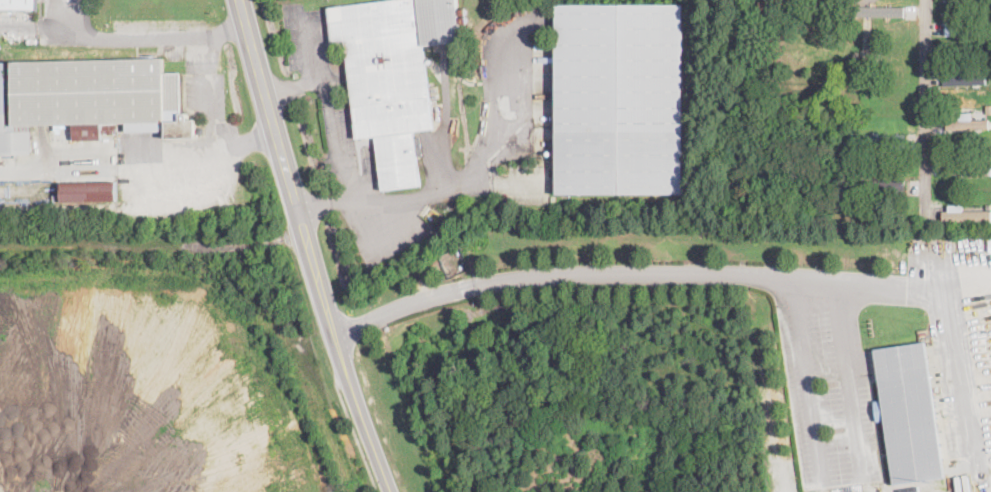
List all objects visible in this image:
building: (19, 4)
building: (986, 7)
building: (463, 12)
building: (886, 15)
building: (465, 20)
building: (966, 32)
road: (146, 34)
building: (986, 44)
building: (392, 75)
building: (965, 80)
building: (989, 80)
road: (291, 86)
building: (91, 99)
building: (621, 99)
road: (268, 100)
road: (925, 108)
building: (989, 112)
road: (210, 115)
building: (990, 123)
building: (968, 125)
road: (334, 131)
building: (886, 139)
building: (860, 148)
building: (965, 170)
building: (990, 170)
road: (471, 172)
building: (882, 184)
building: (89, 191)
building: (867, 193)
building: (969, 217)
road: (632, 270)
road: (340, 347)
landfill: (162, 368)
road: (953, 372)
road: (849, 377)
road: (806, 378)
building: (909, 413)
road: (358, 440)
landfill: (604, 452)

